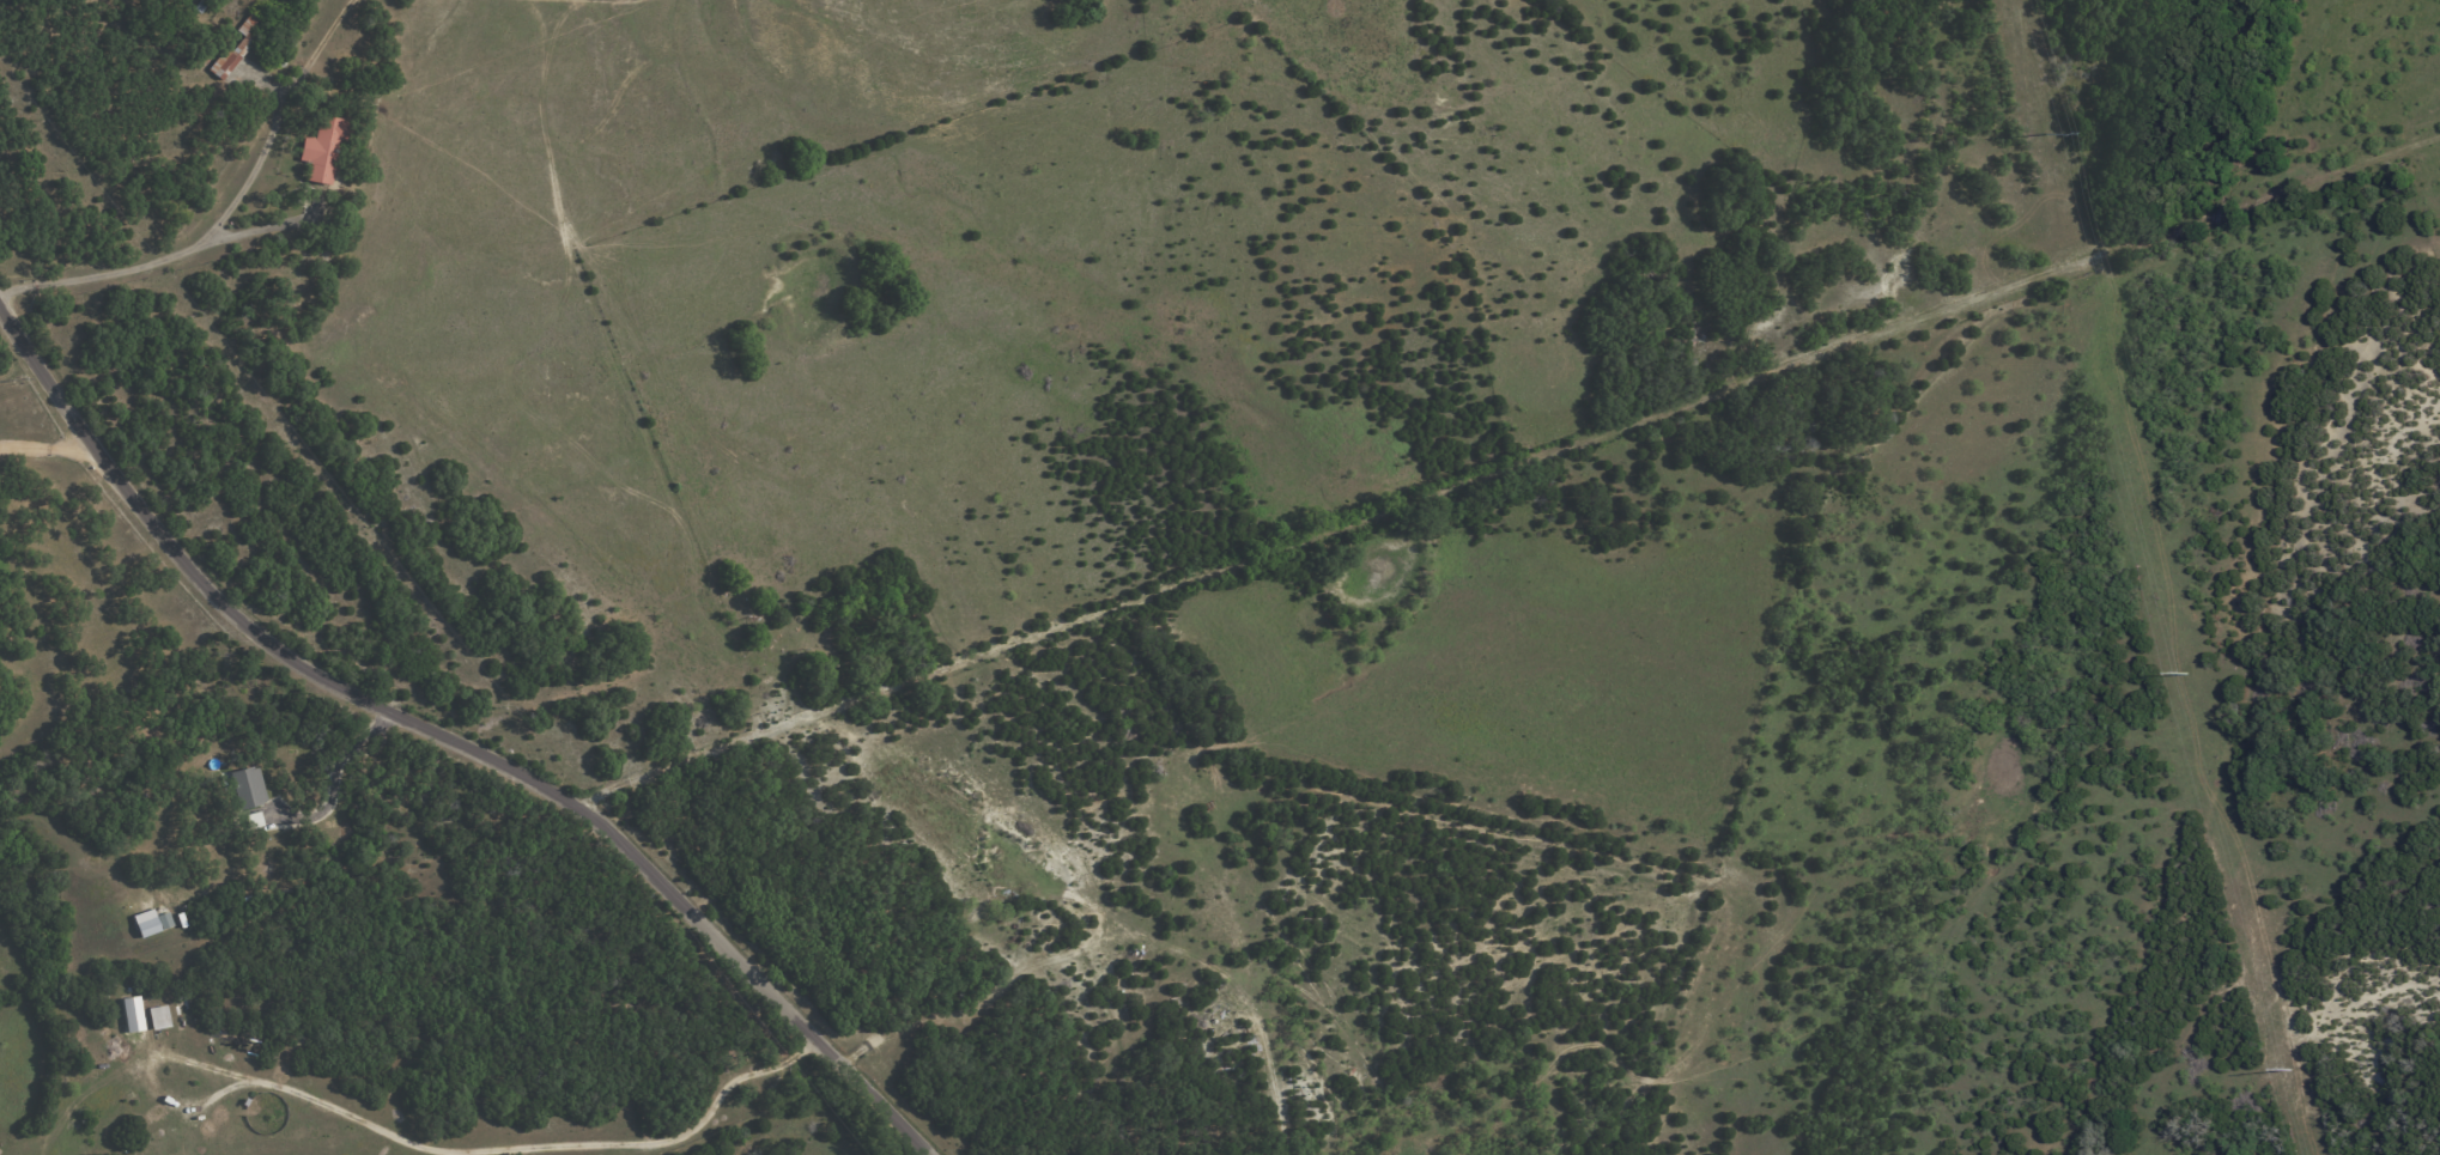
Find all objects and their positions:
road: (324, 42)
power tower: (2045, 134)
building: (323, 151)
road: (190, 249)
road: (47, 449)
road: (1498, 473)
power tower: (2186, 674)
road: (450, 741)
building: (247, 788)
building: (151, 923)
building: (132, 1015)
power tower: (2290, 1069)
road: (424, 1149)

